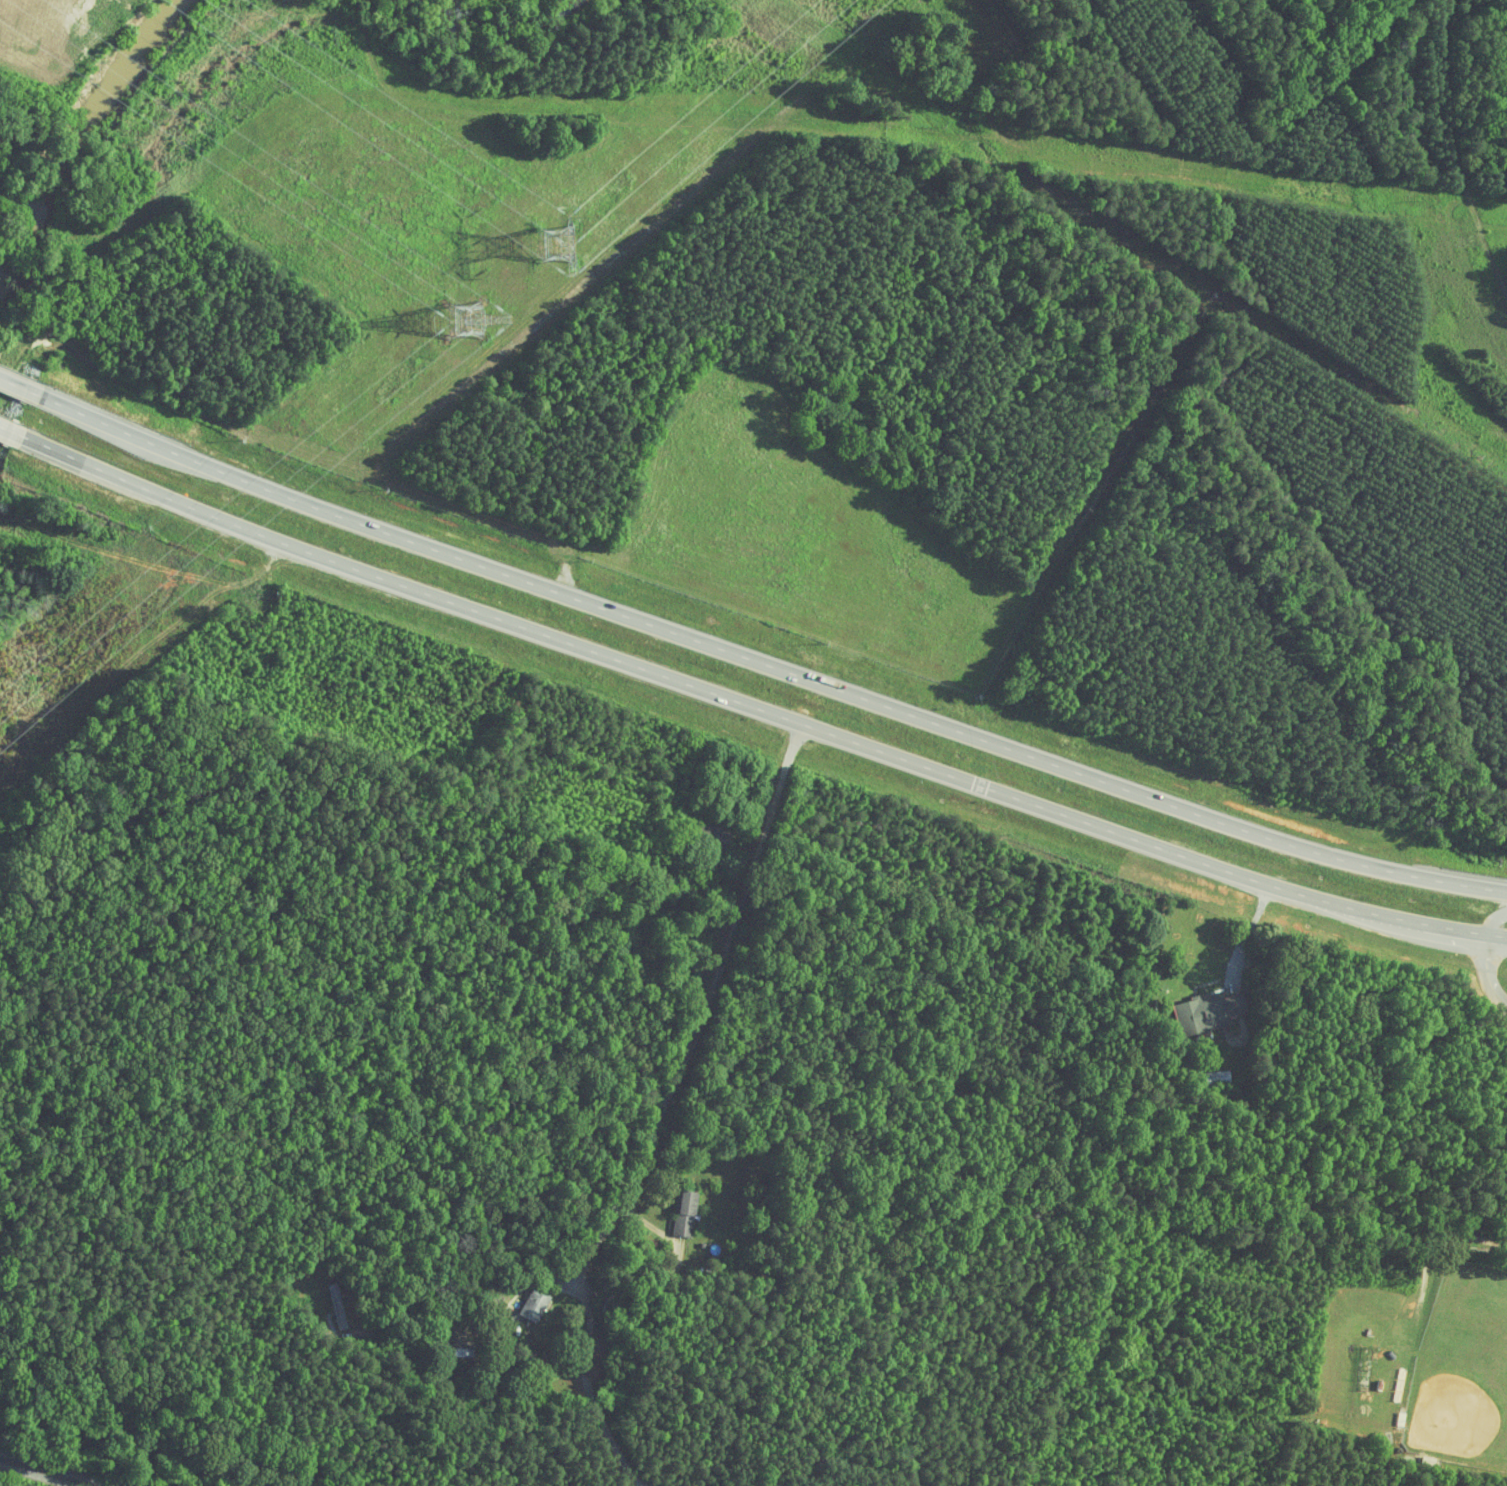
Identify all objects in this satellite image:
power tower: (563, 250)
power tower: (475, 324)
road: (20, 384)
road: (12, 432)
road: (766, 664)
road: (758, 710)
road: (1494, 920)
road: (1249, 931)
road: (1487, 971)
road: (704, 1007)
building: (1209, 1010)
building: (686, 1213)
building: (536, 1304)
building: (338, 1306)
road: (500, 1361)
park: (1464, 1373)
road: (601, 1421)
railway: (47, 1471)

